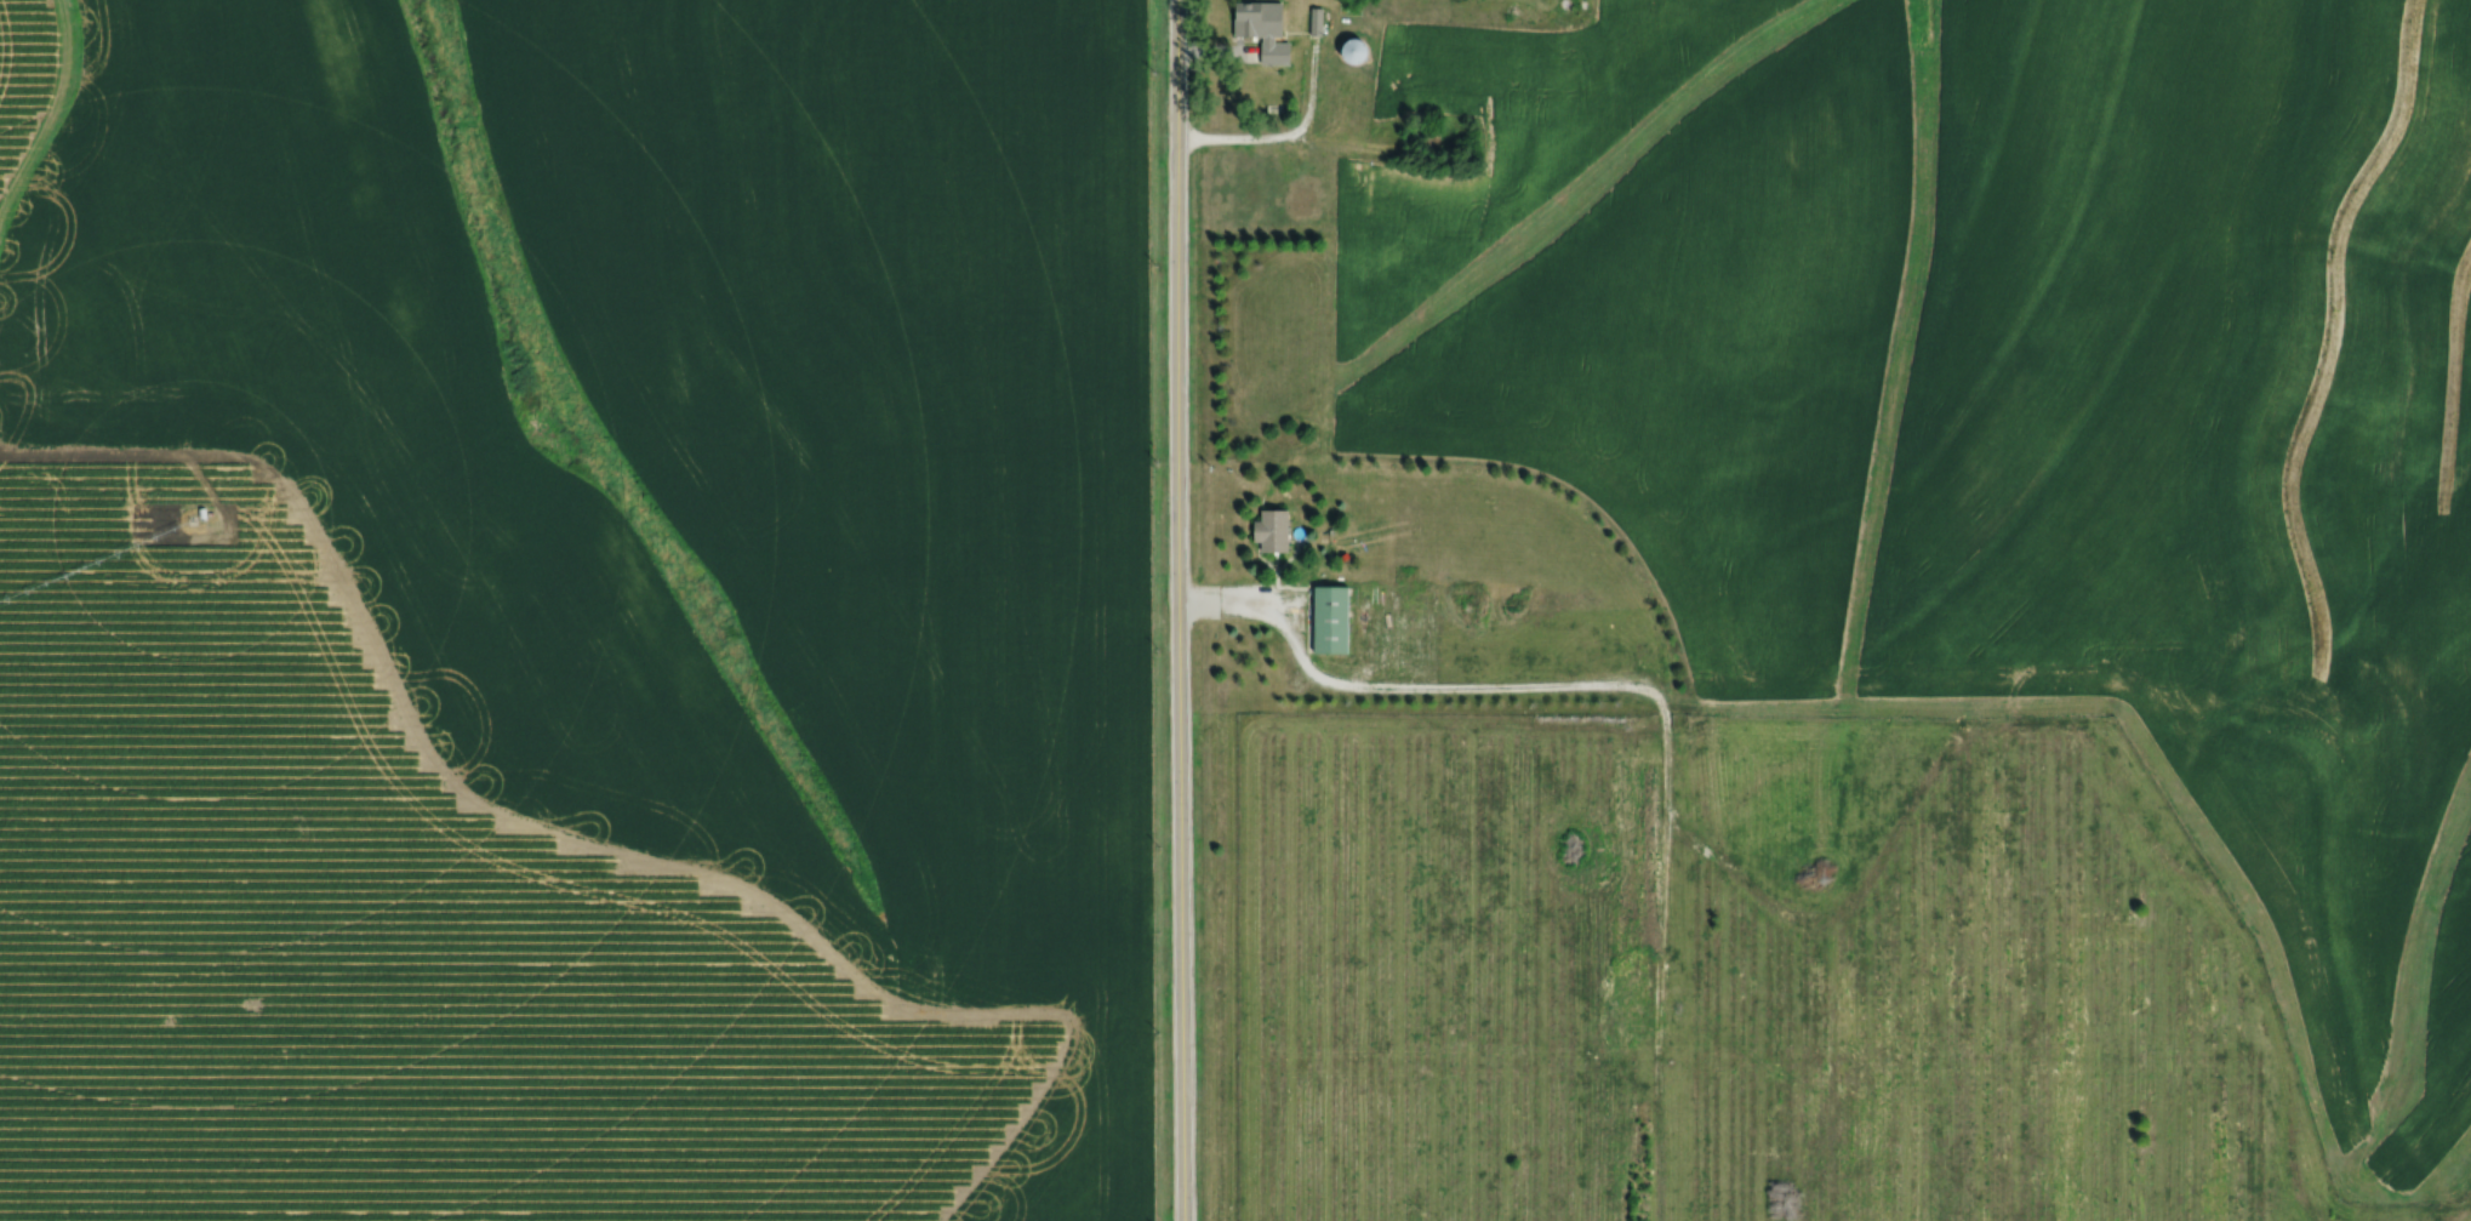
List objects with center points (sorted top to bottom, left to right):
building: (1316, 21)
building: (1262, 36)
road: (1219, 51)
building: (1348, 52)
road: (1286, 133)
building: (1300, 199)
building: (1273, 530)
road: (1179, 610)
building: (1334, 617)
road: (1457, 686)

